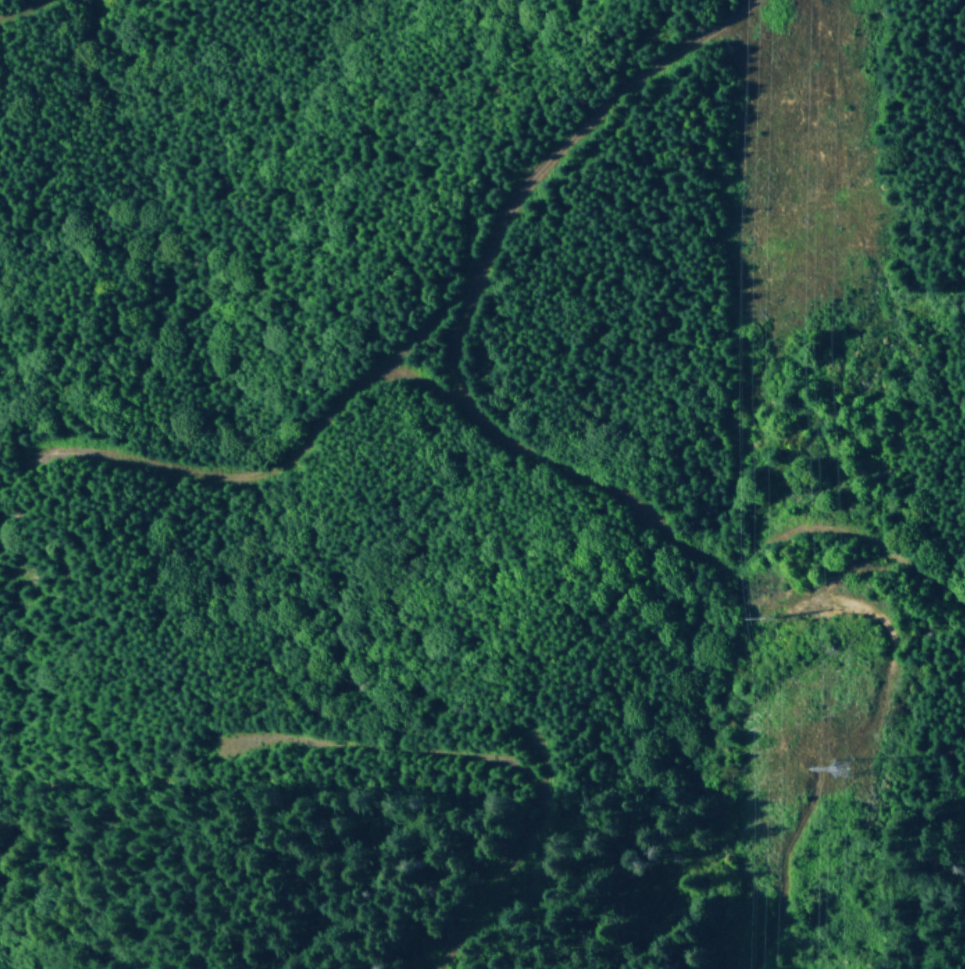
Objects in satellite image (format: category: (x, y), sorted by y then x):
power tower: (744, 618)
power tower: (836, 769)

